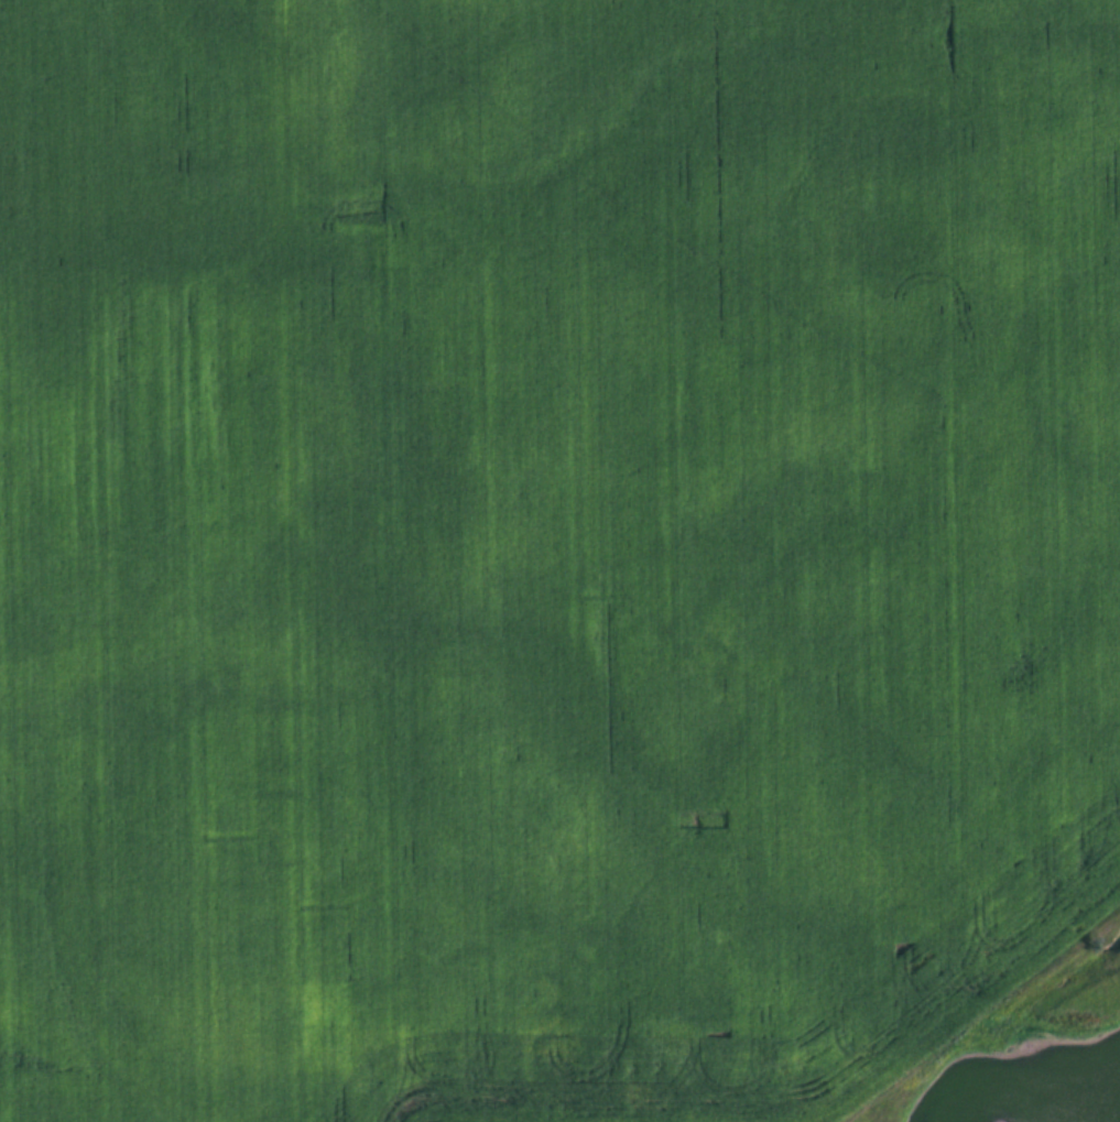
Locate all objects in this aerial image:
river: (1021, 1101)
river: (1111, 1113)

